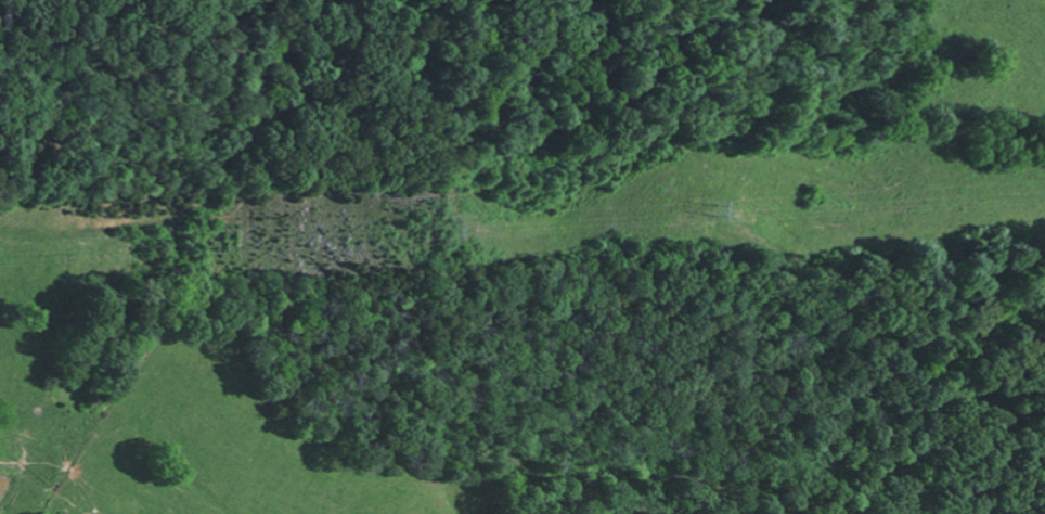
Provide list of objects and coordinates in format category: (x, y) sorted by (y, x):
power tower: (732, 221)
power tower: (452, 236)

